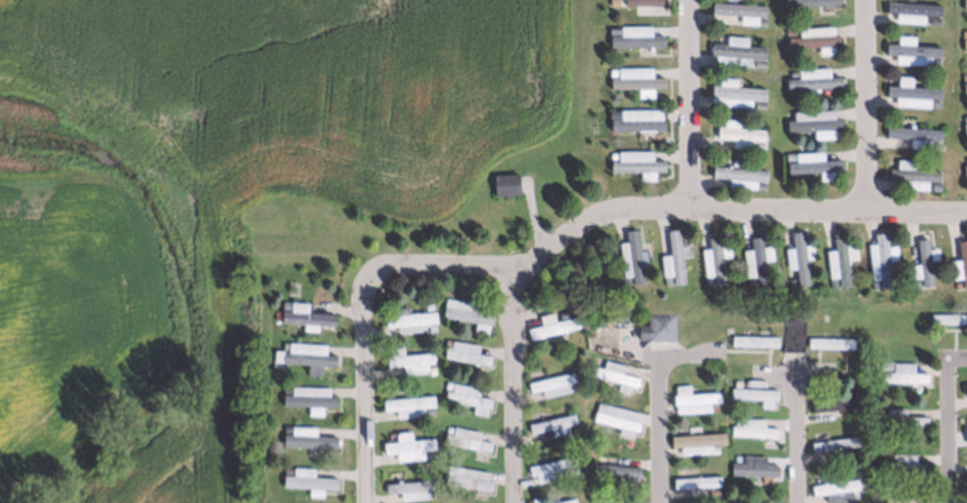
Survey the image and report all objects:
building: (633, 2)
building: (807, 2)
building: (963, 4)
building: (738, 10)
building: (910, 10)
building: (932, 19)
building: (762, 22)
building: (611, 30)
building: (787, 30)
building: (961, 31)
building: (634, 36)
building: (812, 36)
building: (964, 44)
building: (733, 49)
building: (911, 53)
building: (932, 61)
building: (757, 62)
building: (611, 72)
building: (791, 73)
building: (963, 75)
building: (635, 77)
building: (811, 78)
building: (964, 86)
building: (733, 93)
building: (910, 94)
road: (692, 103)
building: (933, 103)
building: (757, 104)
road: (869, 105)
building: (611, 113)
building: (964, 117)
building: (635, 119)
building: (812, 119)
building: (964, 128)
building: (911, 131)
building: (737, 132)
building: (756, 145)
building: (934, 145)
building: (610, 155)
building: (788, 156)
building: (965, 159)
building: (634, 161)
building: (811, 162)
building: (964, 170)
building: (738, 175)
building: (912, 176)
building: (505, 185)
building: (760, 185)
building: (934, 186)
road: (661, 207)
building: (629, 256)
building: (670, 257)
building: (795, 258)
building: (877, 258)
building: (712, 259)
building: (753, 259)
building: (836, 259)
building: (962, 260)
building: (922, 261)
building: (624, 280)
building: (665, 280)
building: (705, 280)
building: (748, 281)
building: (790, 282)
building: (831, 283)
building: (872, 283)
building: (913, 284)
building: (282, 305)
building: (426, 305)
building: (274, 314)
building: (465, 314)
building: (561, 314)
building: (304, 317)
building: (948, 318)
building: (408, 321)
building: (551, 326)
building: (656, 327)
building: (430, 328)
building: (791, 332)
building: (752, 340)
building: (828, 341)
building: (446, 342)
building: (283, 345)
building: (465, 354)
building: (306, 357)
building: (406, 361)
building: (884, 365)
building: (431, 370)
building: (613, 372)
building: (903, 372)
road: (515, 383)
building: (736, 383)
building: (446, 384)
building: (551, 385)
road: (366, 387)
building: (574, 387)
building: (284, 389)
building: (965, 391)
building: (752, 392)
building: (467, 398)
building: (307, 399)
building: (692, 401)
building: (832, 403)
building: (405, 404)
building: (713, 407)
building: (879, 409)
building: (428, 411)
building: (850, 411)
building: (615, 415)
building: (900, 416)
building: (736, 420)
road: (662, 424)
building: (551, 426)
building: (573, 427)
road: (800, 427)
building: (285, 429)
building: (448, 429)
building: (964, 429)
building: (751, 430)
road: (947, 431)
building: (306, 440)
building: (464, 440)
building: (695, 441)
building: (833, 443)
building: (406, 448)
building: (713, 449)
building: (427, 455)
building: (901, 462)
building: (550, 463)
building: (752, 465)
building: (286, 466)
building: (573, 467)
building: (614, 469)
building: (465, 472)
building: (308, 476)
building: (965, 476)
building: (408, 484)
building: (694, 484)
building: (833, 486)
building: (712, 488)
building: (851, 494)
building: (552, 499)
building: (886, 500)
building: (598, 501)
building: (615, 502)
building: (754, 502)

